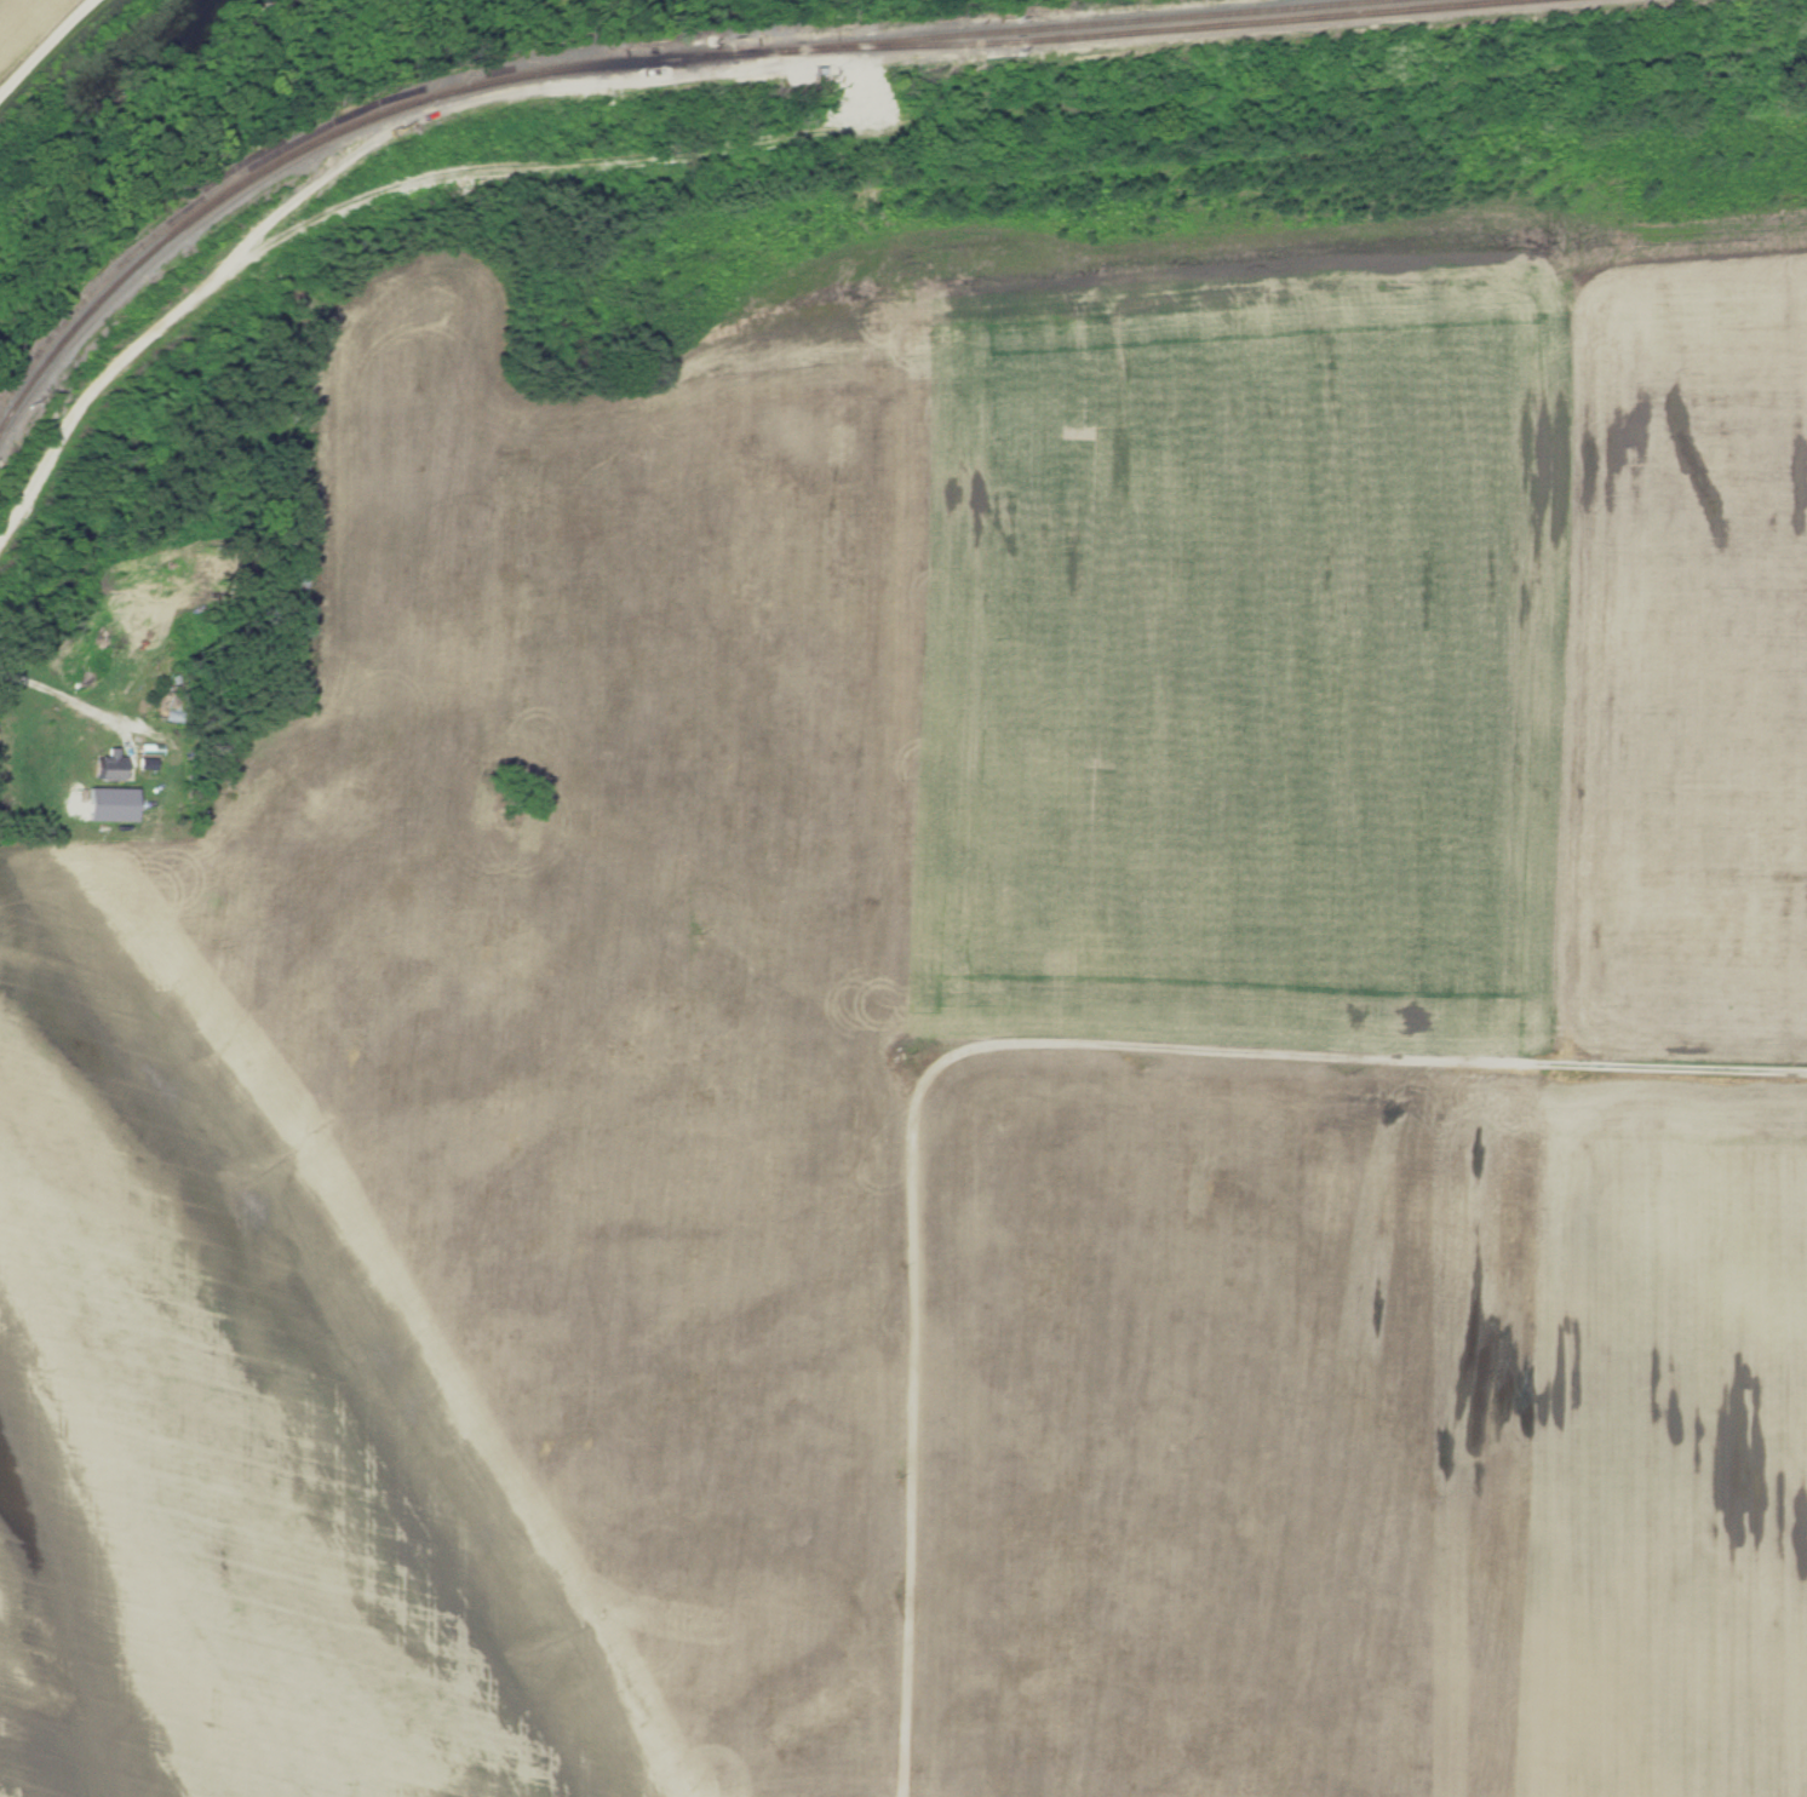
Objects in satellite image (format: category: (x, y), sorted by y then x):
railway: (1045, 27)
railway: (1109, 31)
road: (46, 44)
railway: (310, 137)
building: (109, 764)
road: (1629, 1070)
road: (899, 1158)

